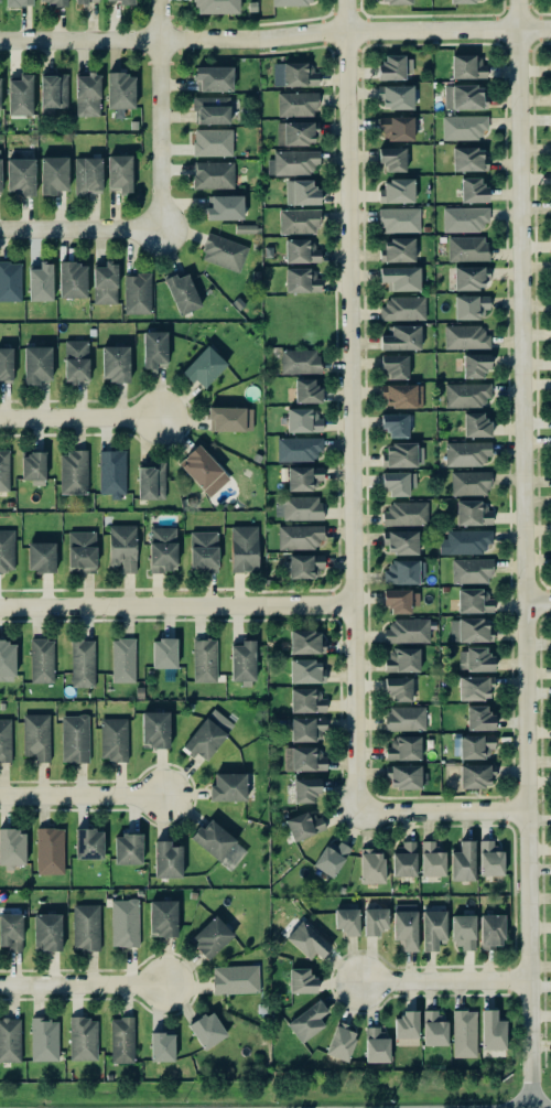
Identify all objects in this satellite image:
building: (80, 1)
building: (119, 1)
building: (395, 1)
building: (462, 1)
building: (19, 2)
building: (52, 2)
building: (290, 2)
building: (216, 7)
road: (403, 30)
road: (128, 39)
building: (467, 65)
building: (395, 66)
building: (299, 74)
building: (214, 78)
building: (0, 83)
building: (52, 90)
building: (120, 90)
building: (87, 94)
building: (20, 95)
building: (395, 96)
building: (463, 97)
building: (296, 104)
building: (212, 109)
road: (158, 115)
building: (397, 127)
building: (463, 127)
building: (294, 133)
building: (212, 142)
building: (391, 158)
building: (467, 159)
building: (293, 162)
building: (119, 173)
building: (53, 174)
building: (87, 174)
building: (213, 174)
building: (20, 175)
building: (0, 179)
building: (397, 190)
building: (473, 190)
building: (301, 192)
building: (224, 207)
building: (464, 218)
building: (399, 219)
building: (298, 220)
building: (245, 228)
road: (78, 232)
building: (466, 248)
building: (397, 249)
building: (223, 251)
building: (300, 251)
building: (469, 277)
building: (400, 278)
building: (72, 279)
building: (10, 280)
building: (300, 280)
building: (40, 281)
building: (105, 282)
building: (181, 292)
building: (137, 293)
building: (469, 305)
building: (403, 308)
building: (465, 336)
building: (401, 337)
building: (153, 347)
building: (75, 361)
building: (115, 363)
building: (36, 364)
building: (6, 365)
building: (393, 365)
building: (475, 365)
building: (204, 366)
building: (306, 390)
building: (466, 394)
building: (401, 395)
road: (349, 405)
road: (83, 415)
building: (229, 418)
building: (303, 420)
building: (395, 424)
building: (475, 424)
building: (298, 449)
building: (466, 453)
building: (402, 454)
building: (32, 465)
building: (4, 470)
building: (203, 470)
building: (73, 472)
building: (111, 472)
building: (303, 477)
building: (150, 481)
building: (397, 483)
building: (469, 483)
building: (298, 507)
building: (404, 513)
building: (472, 513)
building: (299, 536)
building: (400, 541)
building: (465, 541)
building: (122, 546)
building: (162, 548)
building: (244, 548)
building: (7, 550)
building: (82, 550)
building: (203, 551)
road: (523, 553)
building: (41, 556)
building: (304, 566)
building: (471, 570)
building: (403, 571)
road: (538, 600)
building: (400, 601)
building: (473, 601)
road: (176, 606)
building: (407, 630)
building: (469, 630)
building: (305, 642)
building: (163, 653)
building: (7, 657)
building: (41, 659)
building: (122, 659)
building: (204, 659)
building: (401, 659)
building: (475, 659)
building: (242, 660)
building: (83, 663)
building: (305, 670)
building: (475, 687)
building: (397, 688)
building: (306, 700)
building: (404, 718)
building: (478, 718)
building: (154, 729)
building: (306, 729)
building: (206, 734)
building: (35, 735)
building: (74, 738)
building: (4, 739)
building: (114, 739)
building: (472, 745)
building: (403, 747)
building: (304, 759)
building: (475, 775)
building: (404, 776)
building: (227, 786)
building: (302, 790)
road: (85, 796)
road: (440, 810)
building: (303, 824)
building: (213, 839)
building: (88, 843)
building: (12, 847)
building: (127, 848)
building: (48, 850)
building: (329, 858)
building: (489, 858)
building: (166, 859)
building: (403, 859)
building: (431, 859)
building: (462, 861)
building: (371, 865)
building: (162, 917)
building: (374, 919)
building: (346, 921)
building: (123, 922)
building: (404, 925)
building: (85, 927)
building: (432, 928)
building: (10, 930)
building: (463, 930)
building: (490, 930)
building: (46, 932)
building: (210, 937)
building: (306, 940)
building: (235, 979)
building: (301, 980)
road: (443, 980)
road: (86, 986)
building: (306, 1021)
building: (406, 1028)
building: (434, 1029)
building: (206, 1030)
building: (491, 1030)
building: (464, 1033)
building: (9, 1039)
building: (44, 1039)
building: (83, 1039)
building: (121, 1040)
building: (341, 1041)
building: (376, 1044)
building: (162, 1046)

